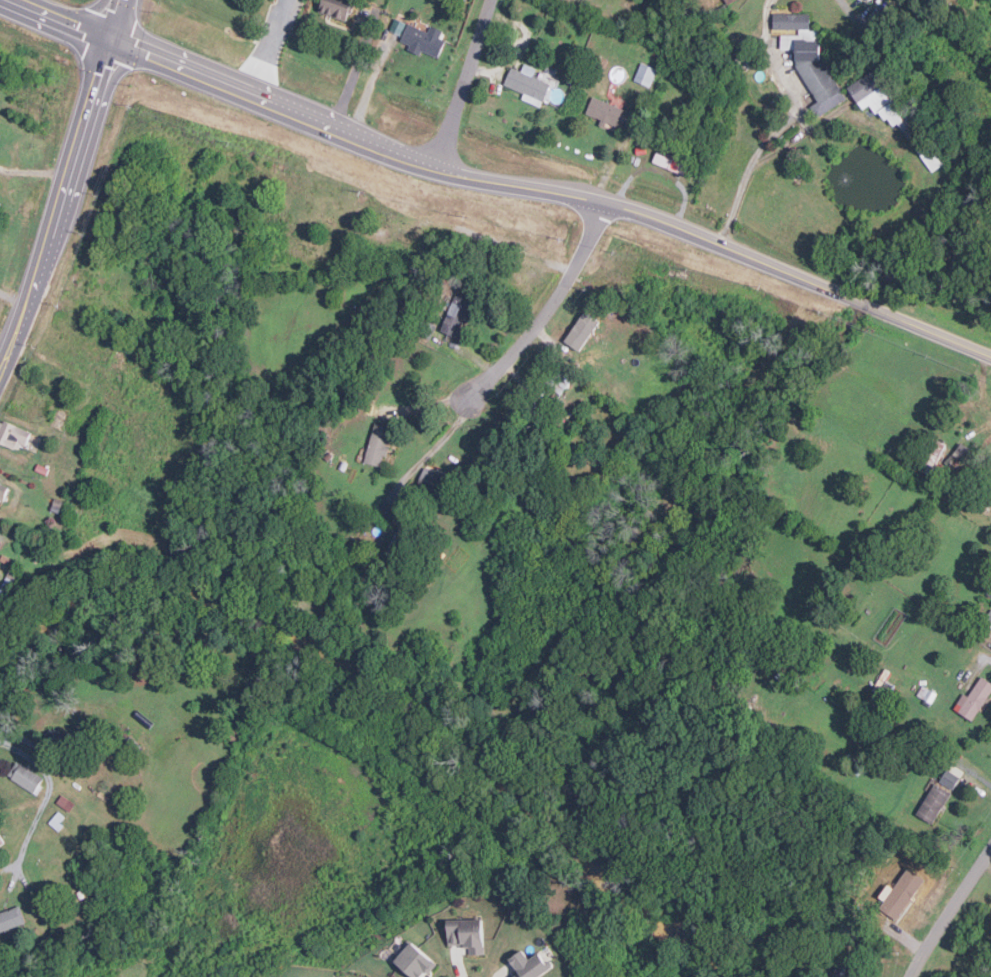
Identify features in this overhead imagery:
building: (865, 0)
road: (845, 7)
building: (337, 8)
road: (767, 13)
road: (64, 17)
building: (397, 26)
traffic signals: (110, 35)
building: (422, 40)
road: (265, 47)
building: (809, 60)
road: (352, 73)
building: (645, 74)
building: (527, 84)
road: (472, 87)
road: (368, 88)
building: (609, 113)
building: (675, 163)
road: (745, 174)
road: (65, 183)
road: (549, 194)
road: (12, 297)
building: (457, 314)
building: (582, 330)
road: (494, 377)
building: (558, 381)
building: (13, 435)
building: (377, 444)
building: (964, 454)
building: (432, 477)
building: (2, 493)
building: (988, 620)
building: (927, 696)
building: (972, 700)
building: (63, 744)
building: (134, 745)
building: (950, 777)
building: (26, 778)
road: (46, 796)
building: (933, 803)
building: (66, 804)
building: (57, 822)
building: (1, 843)
road: (948, 911)
building: (11, 921)
building: (467, 934)
building: (412, 958)
building: (528, 964)
building: (845, 966)

